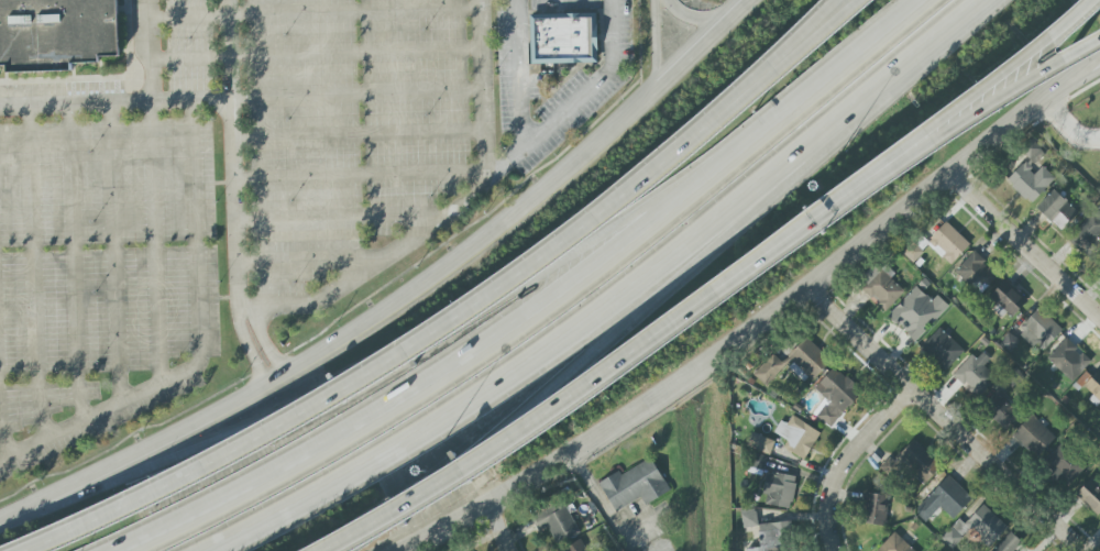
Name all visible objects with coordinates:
road: (353, 10)
road: (186, 15)
road: (826, 29)
road: (835, 29)
building: (57, 36)
road: (664, 42)
building: (566, 45)
road: (355, 53)
road: (188, 58)
road: (846, 65)
road: (680, 70)
road: (516, 74)
road: (1078, 79)
road: (592, 87)
road: (980, 91)
road: (356, 95)
road: (189, 101)
road: (125, 103)
road: (983, 109)
road: (1065, 131)
road: (358, 136)
road: (231, 152)
road: (505, 162)
road: (359, 175)
building: (1028, 176)
parking lot: (218, 199)
building: (1056, 209)
road: (451, 217)
road: (343, 219)
building: (1087, 233)
road: (1026, 241)
road: (155, 242)
building: (949, 245)
road: (114, 252)
building: (912, 252)
road: (313, 261)
road: (74, 263)
road: (34, 272)
building: (880, 287)
road: (619, 293)
building: (1005, 300)
building: (916, 312)
road: (768, 318)
building: (1038, 330)
road: (262, 338)
road: (438, 341)
road: (199, 343)
road: (248, 345)
building: (942, 349)
road: (315, 352)
road: (396, 353)
building: (1067, 360)
road: (464, 361)
building: (794, 363)
road: (580, 365)
road: (604, 374)
building: (976, 375)
building: (1092, 382)
building: (835, 396)
building: (1000, 412)
road: (947, 420)
road: (1, 432)
building: (1033, 436)
building: (796, 437)
building: (760, 443)
road: (847, 459)
building: (914, 464)
building: (1063, 465)
building: (634, 485)
building: (778, 489)
building: (1090, 495)
building: (944, 500)
building: (875, 509)
road: (609, 511)
building: (555, 522)
building: (976, 528)
road: (504, 530)
building: (768, 532)
building: (1008, 543)
building: (894, 544)
building: (577, 548)

